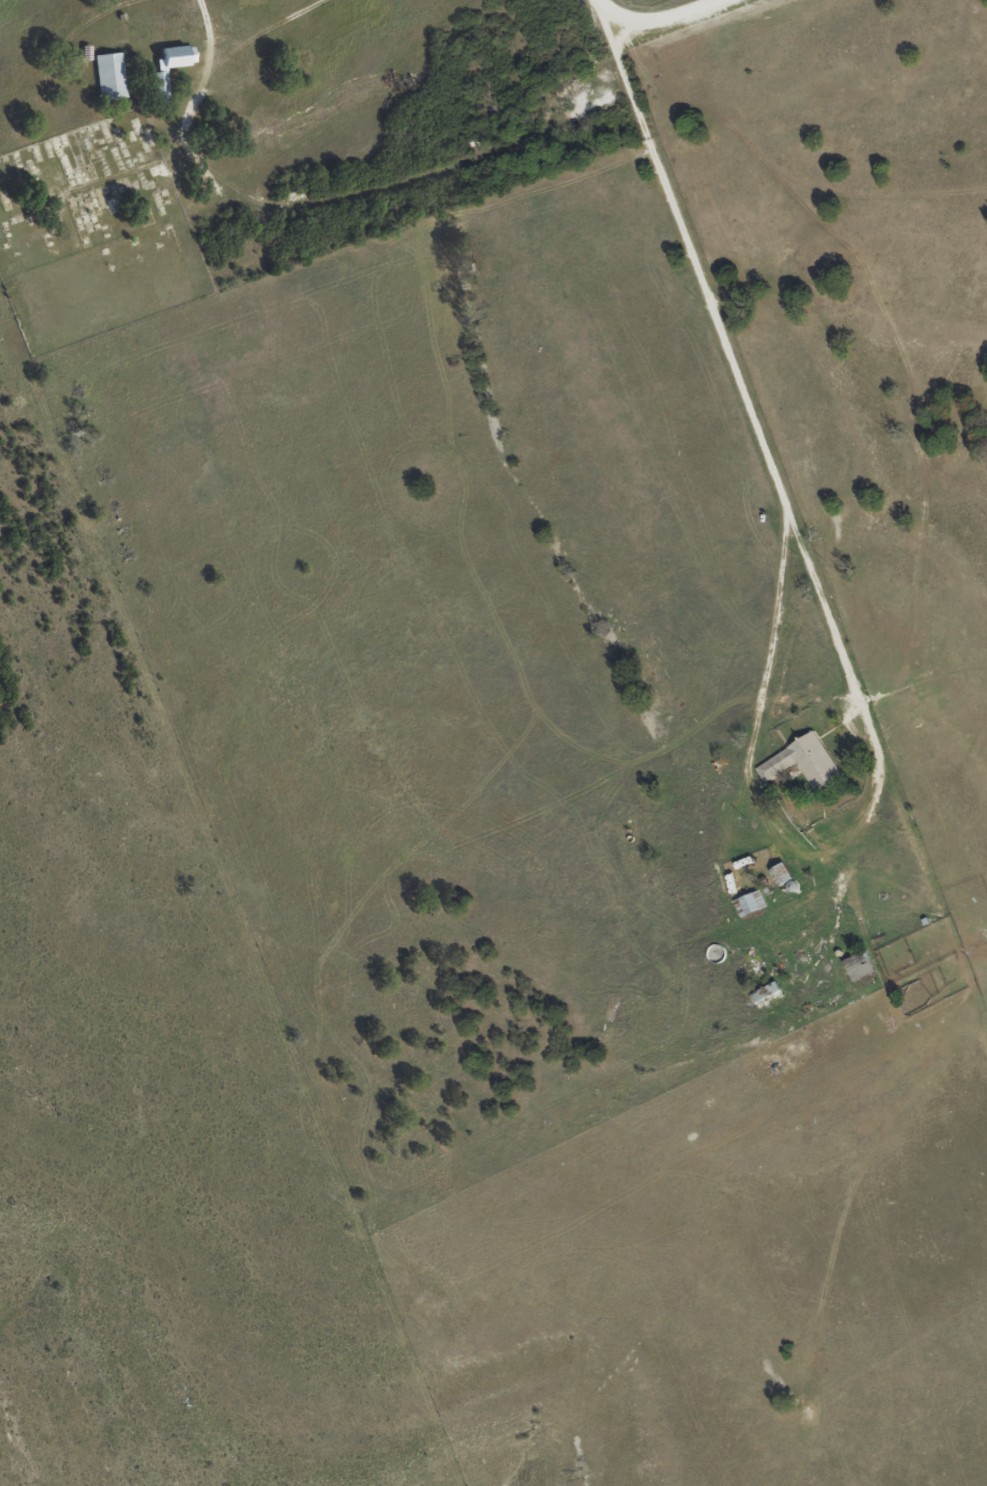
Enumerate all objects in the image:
road: (590, 1)
building: (252, 3)
road: (649, 22)
road: (242, 38)
building: (111, 75)
building: (162, 84)
park: (93, 233)
road: (737, 370)
building: (805, 764)
building: (751, 904)
building: (768, 993)

